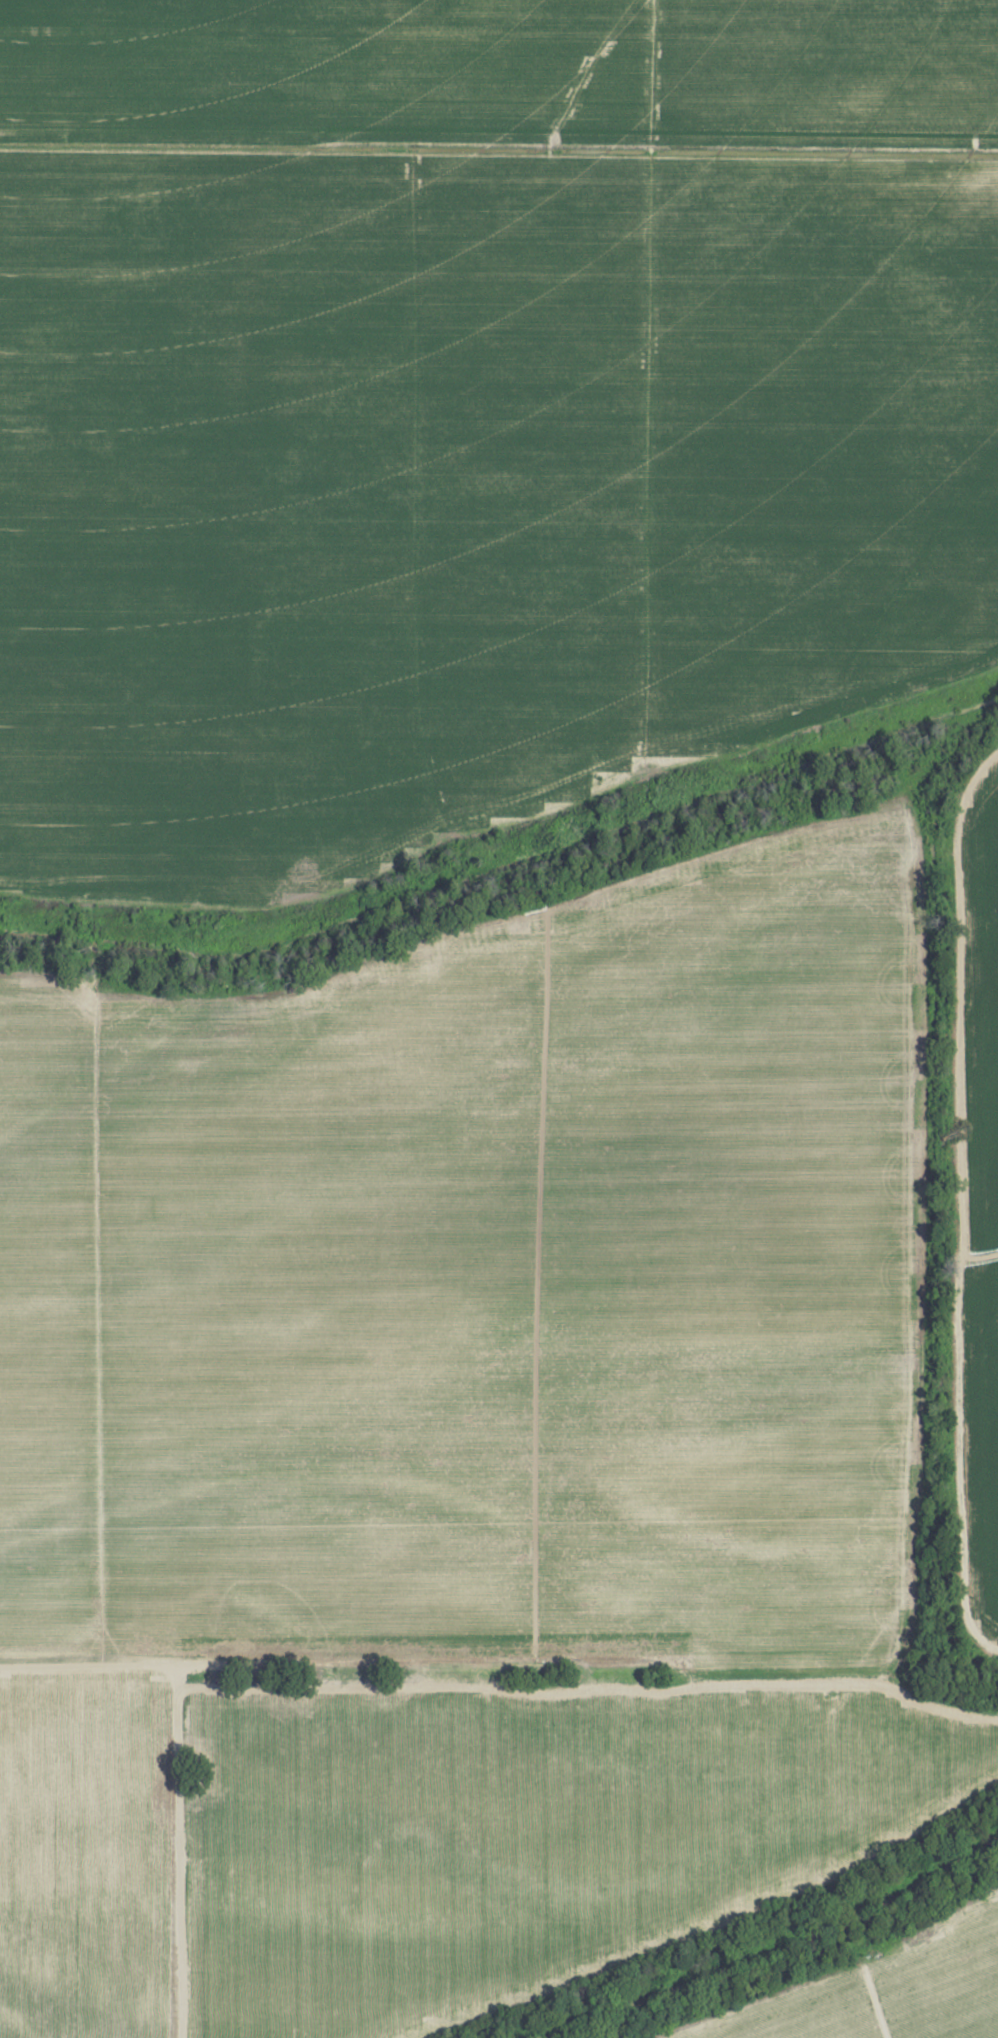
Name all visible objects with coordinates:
road: (173, 1769)

